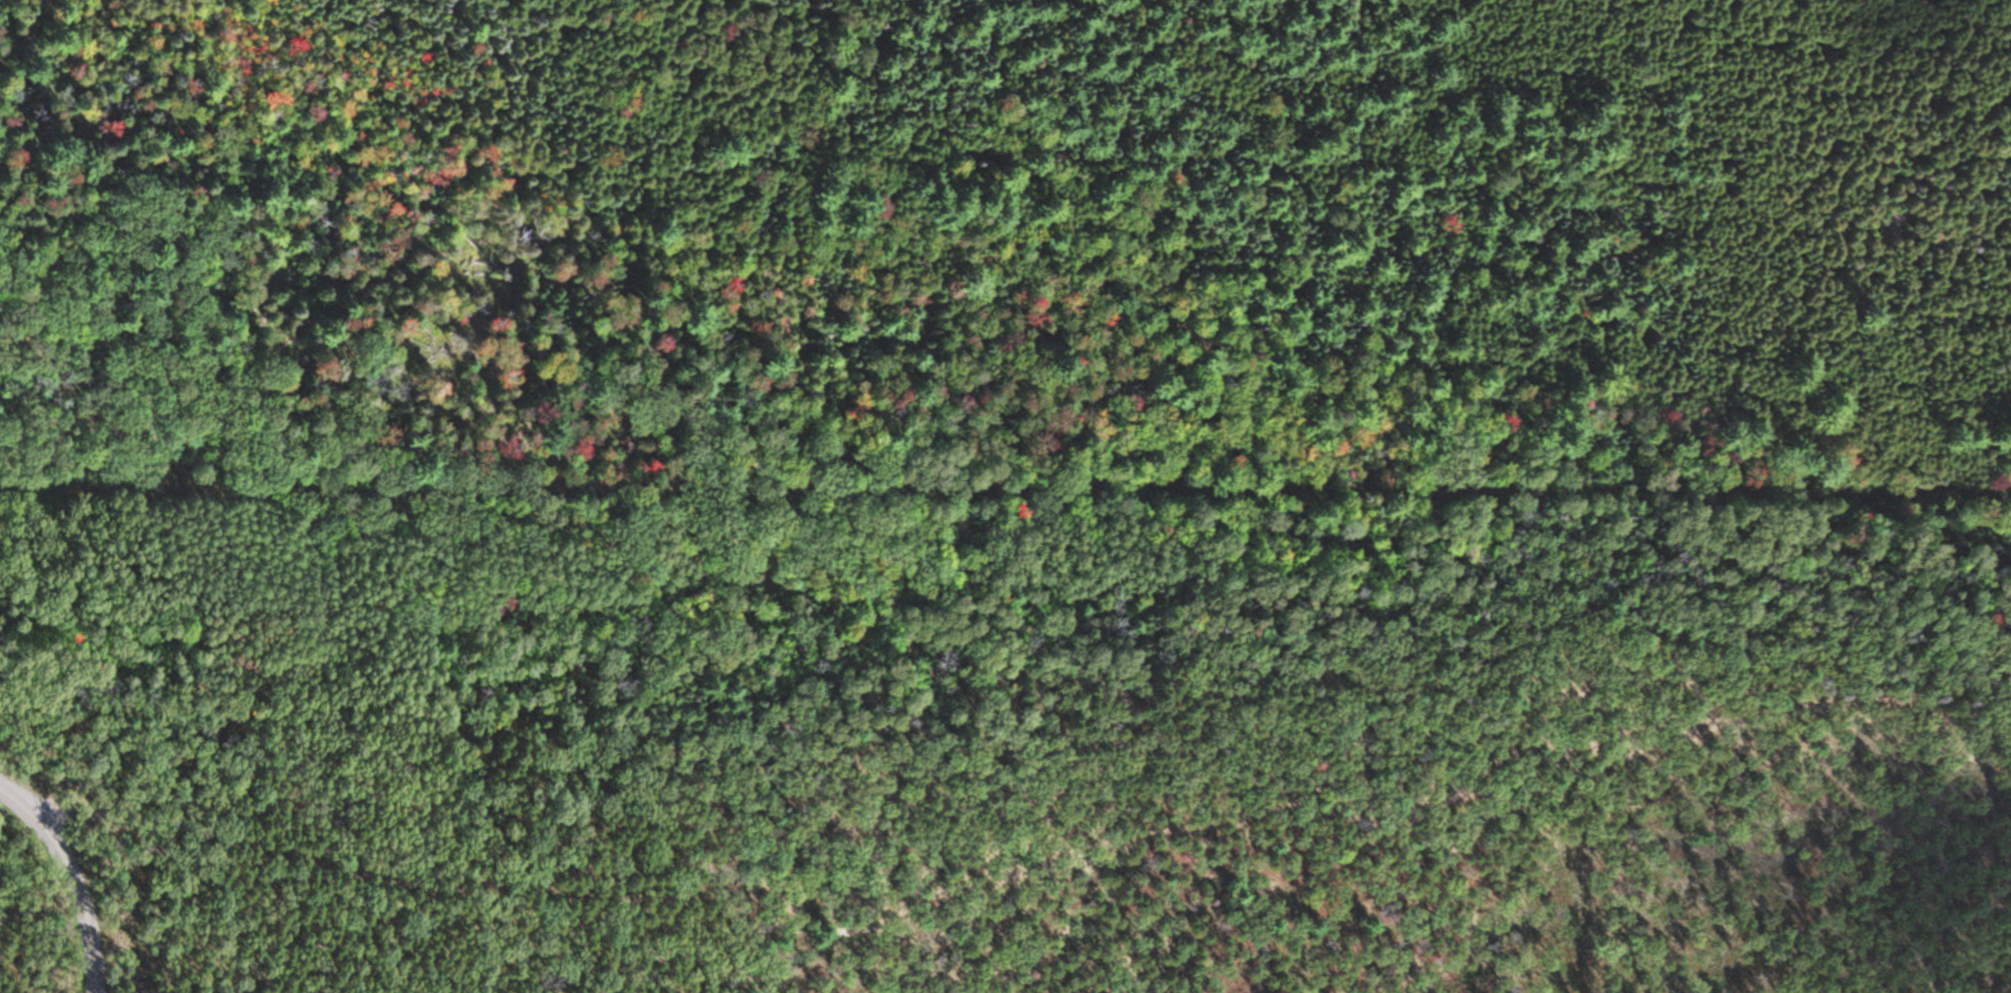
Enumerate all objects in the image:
road: (655, 416)
road: (18, 803)
road: (1188, 820)
road: (18, 830)
road: (260, 857)
road: (82, 900)

